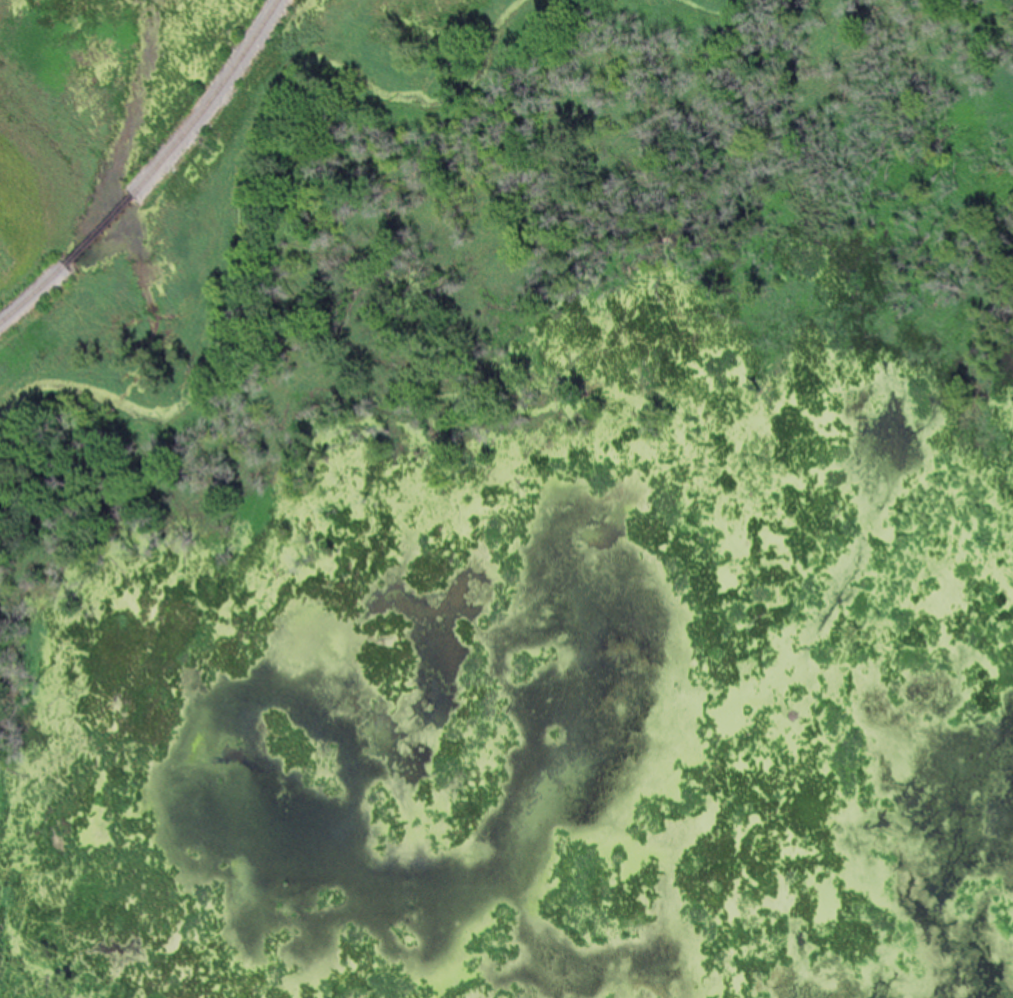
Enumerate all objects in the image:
railway: (209, 98)
river: (253, 189)
railway: (99, 228)
railway: (31, 291)

